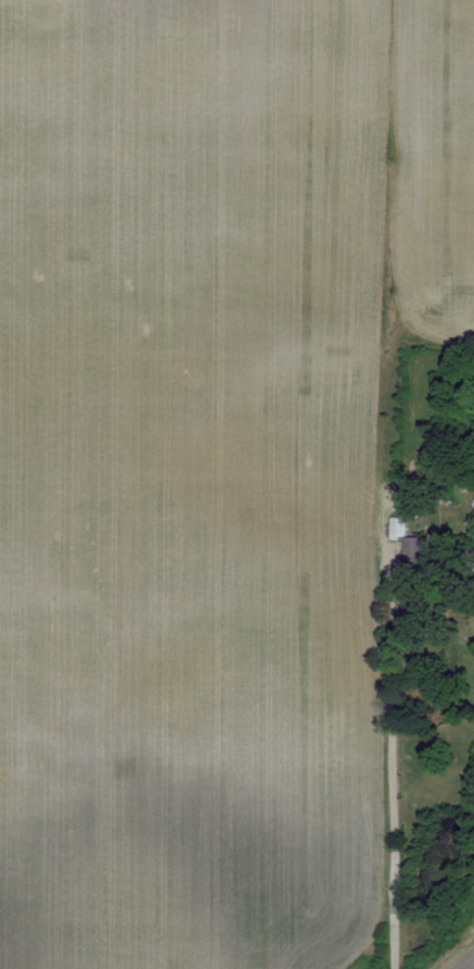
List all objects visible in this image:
building: (396, 528)
building: (414, 551)
road: (397, 753)

